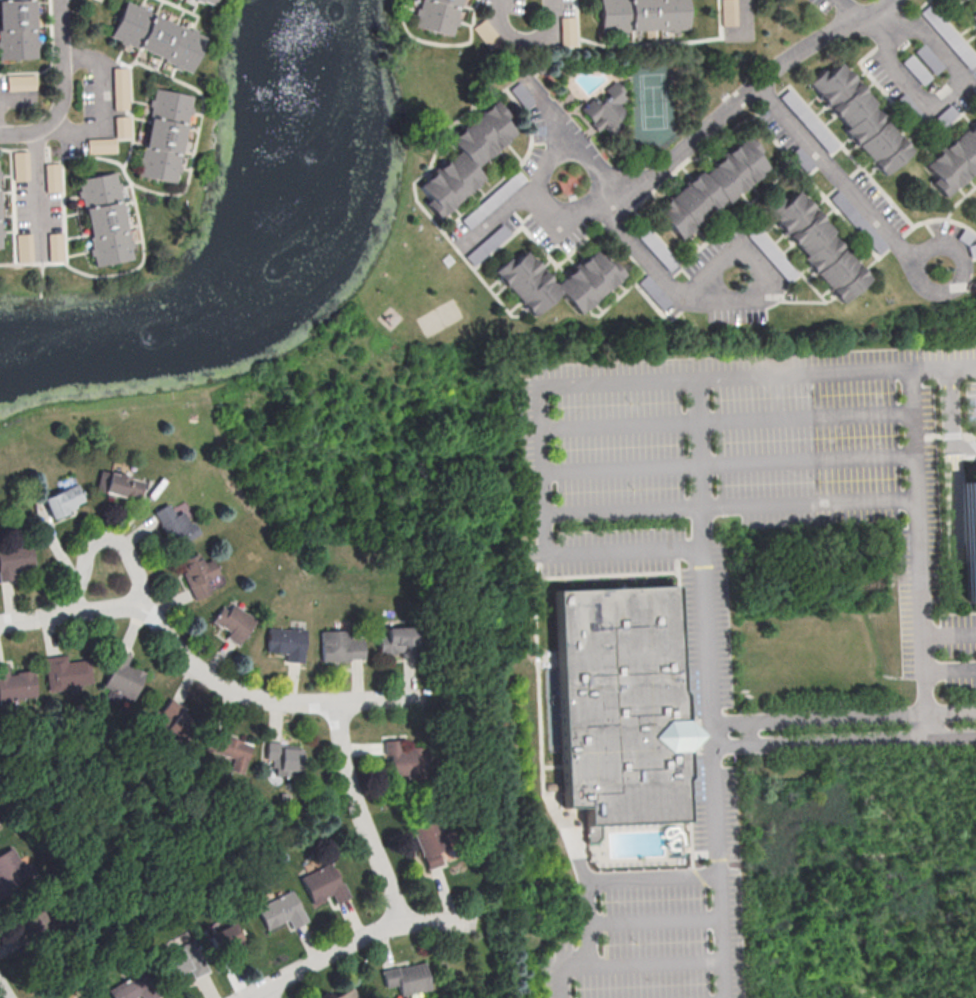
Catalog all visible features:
building: (213, 0)
building: (206, 2)
building: (974, 2)
building: (728, 12)
building: (641, 15)
road: (745, 15)
building: (436, 16)
building: (972, 19)
building: (567, 29)
building: (16, 31)
road: (525, 36)
building: (156, 38)
road: (967, 81)
building: (20, 82)
road: (63, 86)
building: (120, 87)
road: (105, 103)
park: (654, 104)
building: (603, 109)
road: (782, 112)
building: (858, 120)
road: (2, 124)
building: (121, 125)
building: (162, 136)
road: (685, 144)
building: (101, 145)
building: (463, 160)
building: (953, 162)
building: (20, 164)
road: (543, 169)
building: (52, 176)
road: (37, 189)
building: (707, 189)
road: (602, 193)
road: (508, 208)
building: (101, 220)
building: (24, 246)
building: (55, 246)
building: (814, 247)
road: (962, 273)
building: (586, 281)
road: (704, 291)
road: (943, 364)
road: (802, 370)
road: (730, 420)
road: (914, 430)
road: (696, 462)
road: (731, 463)
road: (546, 467)
building: (100, 480)
building: (121, 485)
building: (63, 500)
road: (733, 503)
parking lot: (918, 520)
building: (182, 525)
building: (970, 536)
road: (104, 537)
building: (14, 558)
building: (200, 575)
parking lot: (691, 592)
road: (921, 605)
road: (70, 611)
building: (234, 620)
road: (949, 635)
parking lot: (958, 636)
building: (395, 641)
building: (286, 642)
building: (340, 645)
road: (186, 655)
road: (539, 670)
building: (65, 672)
road: (950, 673)
parking lot: (958, 676)
building: (122, 680)
building: (14, 686)
road: (332, 700)
building: (621, 703)
road: (843, 716)
building: (176, 723)
road: (925, 725)
road: (843, 740)
building: (229, 749)
building: (283, 758)
building: (402, 763)
road: (713, 772)
road: (358, 812)
road: (569, 834)
building: (432, 843)
building: (11, 869)
road: (519, 873)
road: (610, 877)
building: (323, 883)
building: (281, 910)
road: (653, 915)
road: (353, 939)
building: (224, 940)
road: (817, 960)
building: (181, 961)
road: (624, 962)
building: (407, 980)
building: (134, 987)
road: (3, 991)
road: (267, 991)
building: (346, 994)

